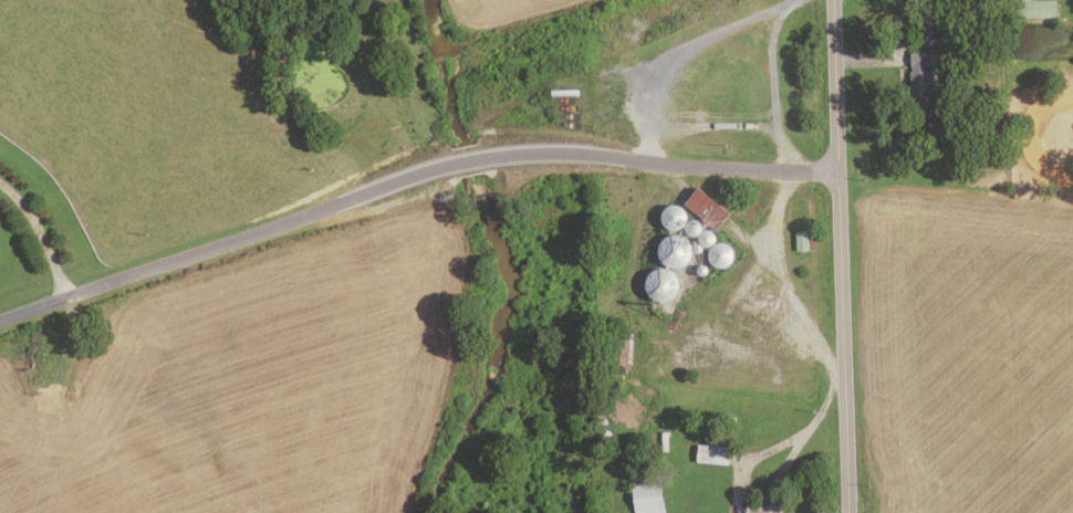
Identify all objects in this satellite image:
building: (1029, 8)
road: (679, 50)
road: (865, 57)
road: (774, 86)
building: (920, 87)
road: (466, 159)
road: (691, 166)
building: (706, 210)
building: (673, 217)
silo: (673, 217)
building: (691, 227)
silo: (691, 227)
road: (41, 235)
building: (706, 238)
silo: (706, 238)
building: (802, 241)
building: (697, 248)
silo: (697, 248)
building: (674, 250)
silo: (674, 250)
road: (196, 252)
building: (719, 253)
silo: (719, 253)
road: (841, 255)
building: (700, 270)
silo: (700, 270)
building: (660, 284)
silo: (660, 284)
building: (618, 350)
road: (832, 365)
building: (730, 422)
building: (664, 440)
building: (711, 456)
building: (646, 495)

